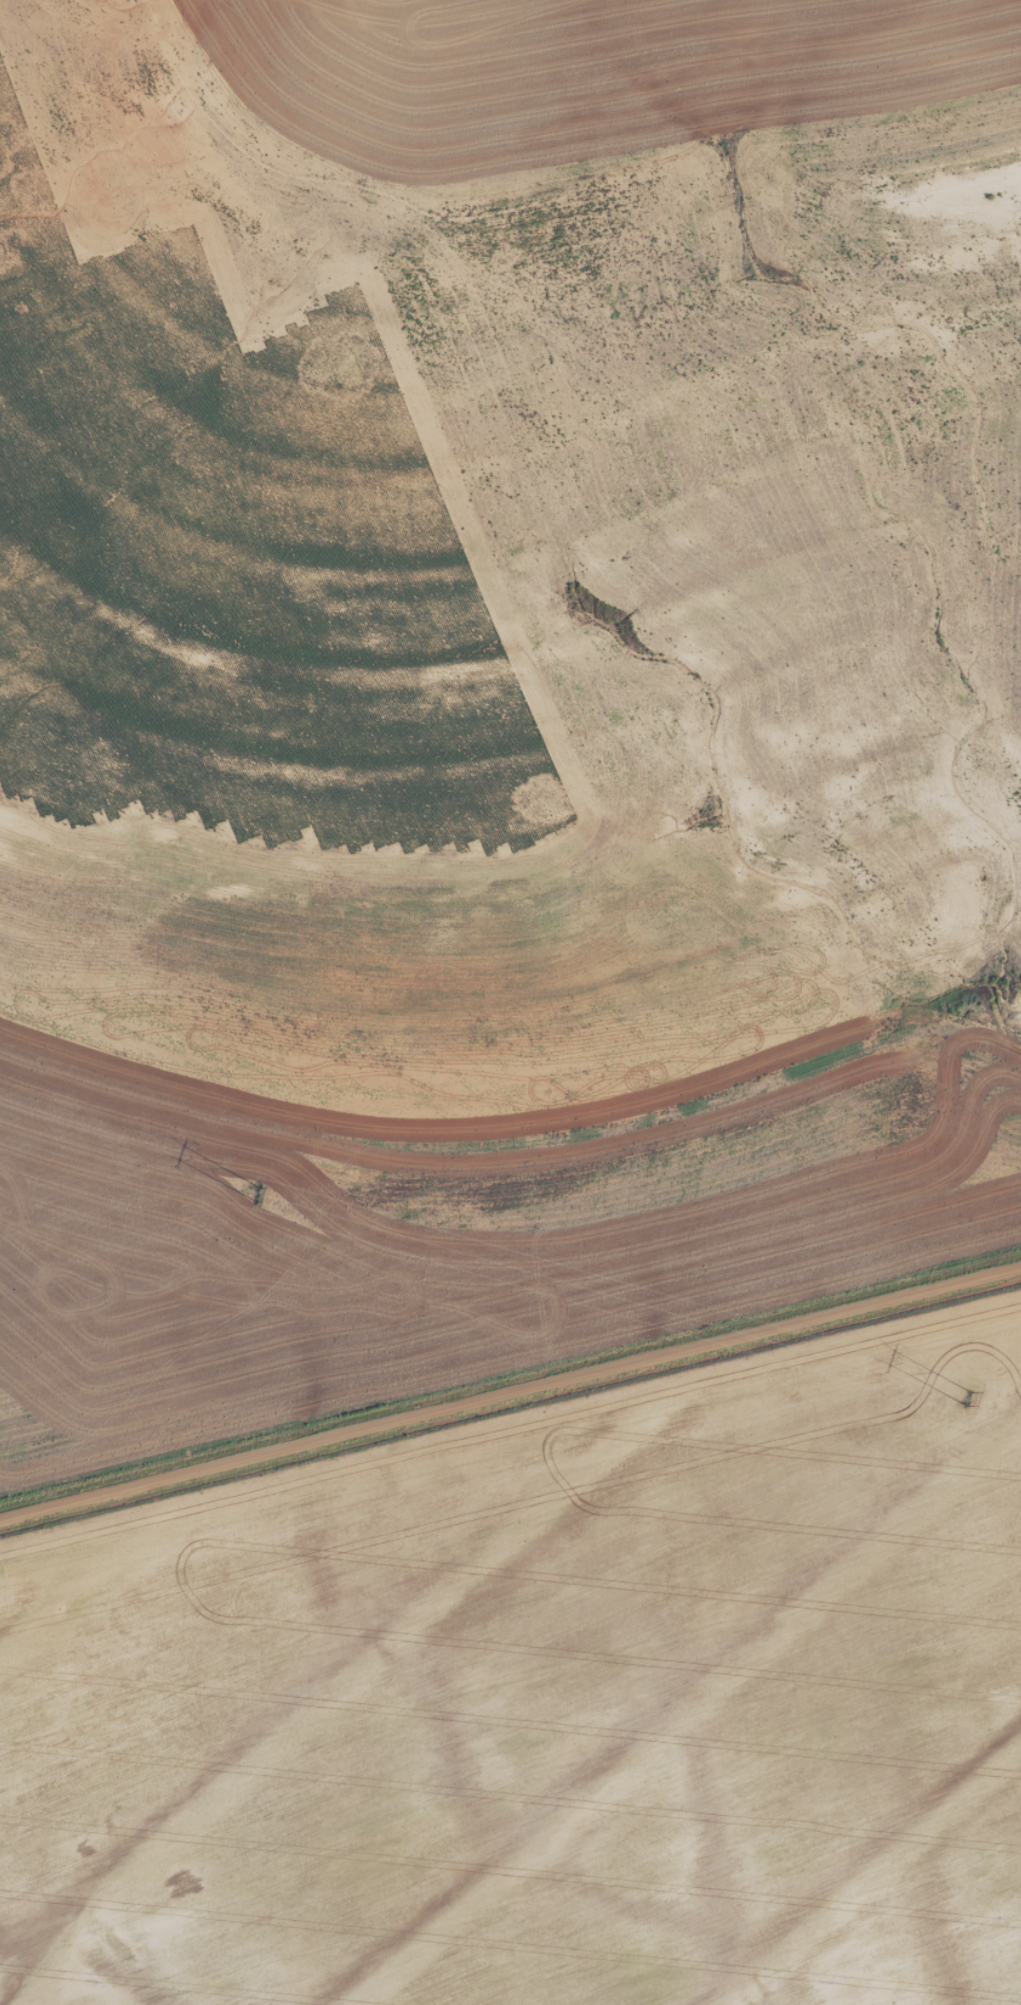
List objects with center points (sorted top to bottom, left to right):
power tower: (252, 1193)
road: (510, 1388)
power tower: (960, 1398)

